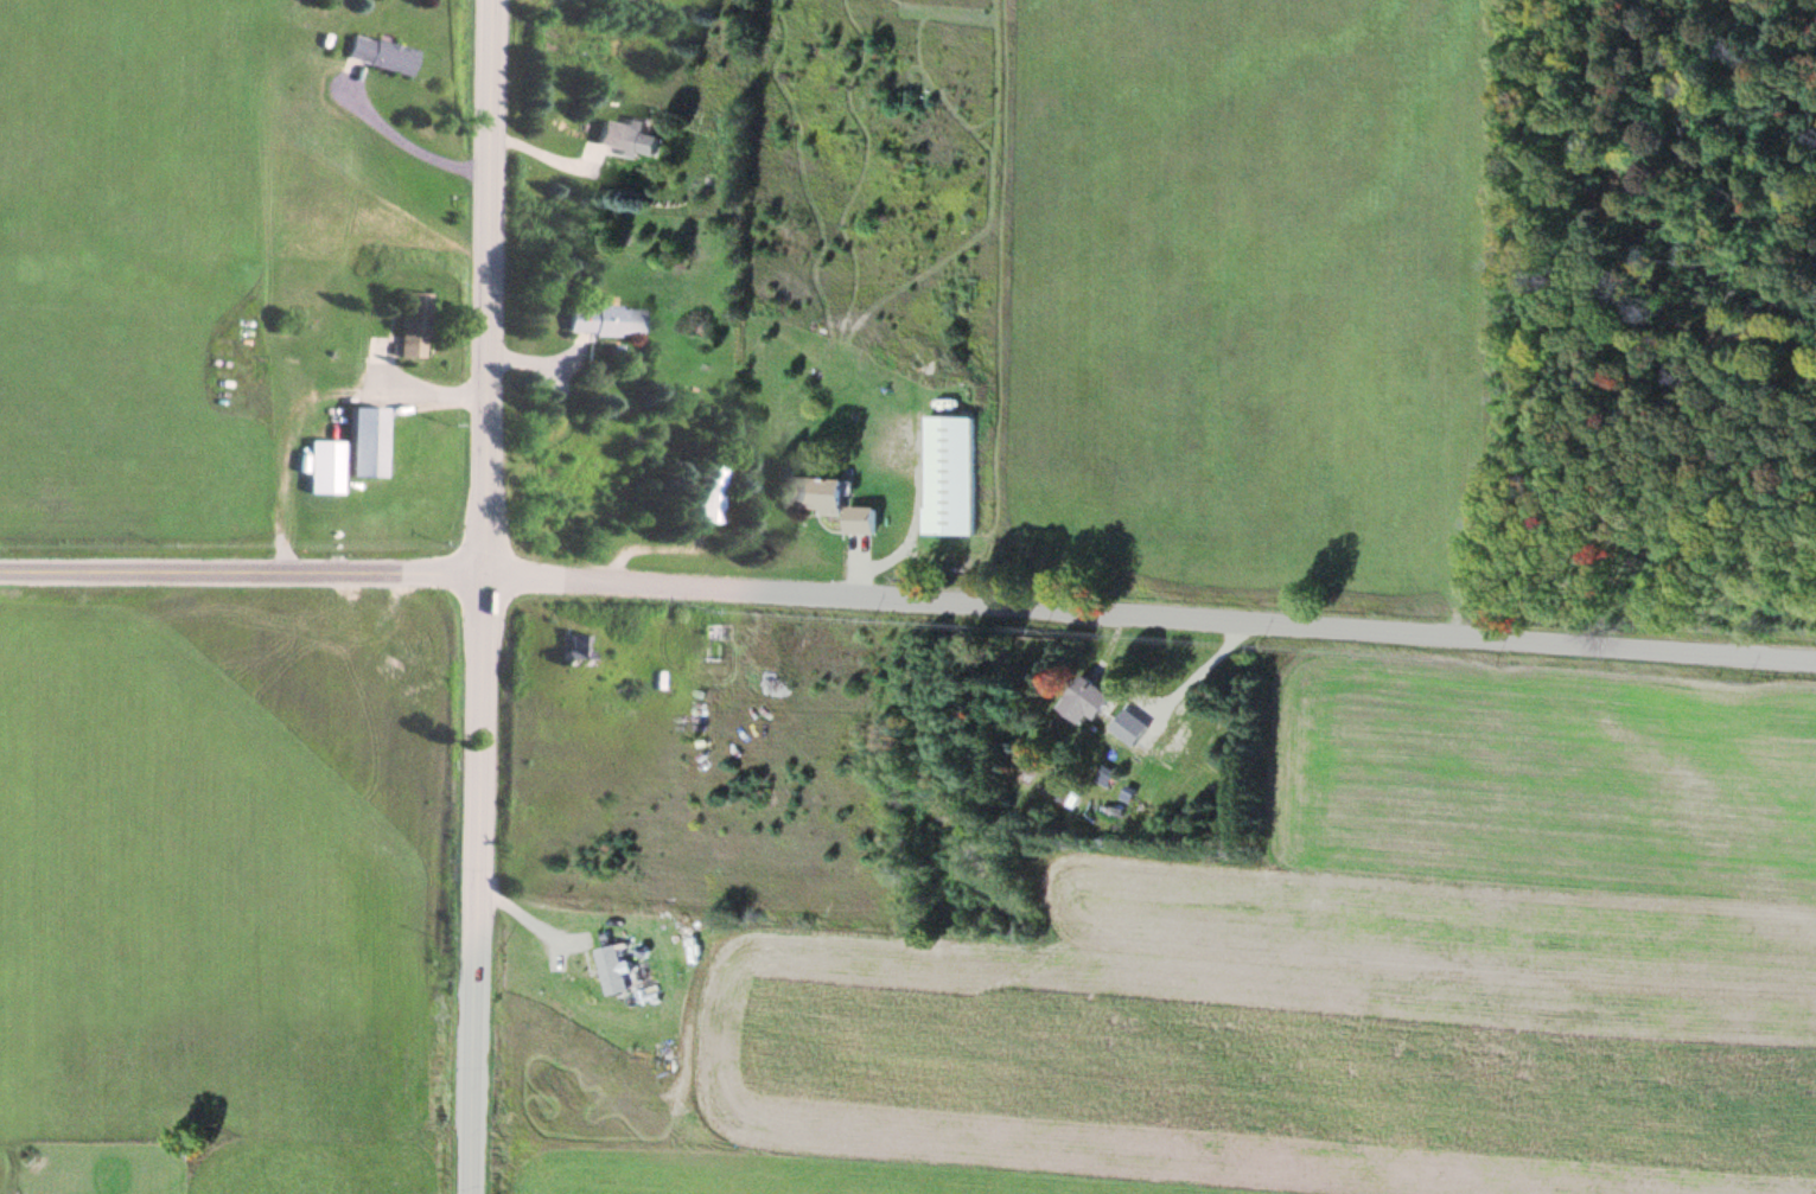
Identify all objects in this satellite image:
building: (380, 53)
building: (629, 138)
building: (601, 319)
building: (410, 324)
building: (367, 441)
building: (325, 465)
building: (951, 478)
building: (708, 492)
building: (821, 494)
building: (864, 521)
road: (483, 596)
road: (907, 602)
building: (714, 643)
building: (571, 650)
building: (1091, 701)
building: (549, 965)

